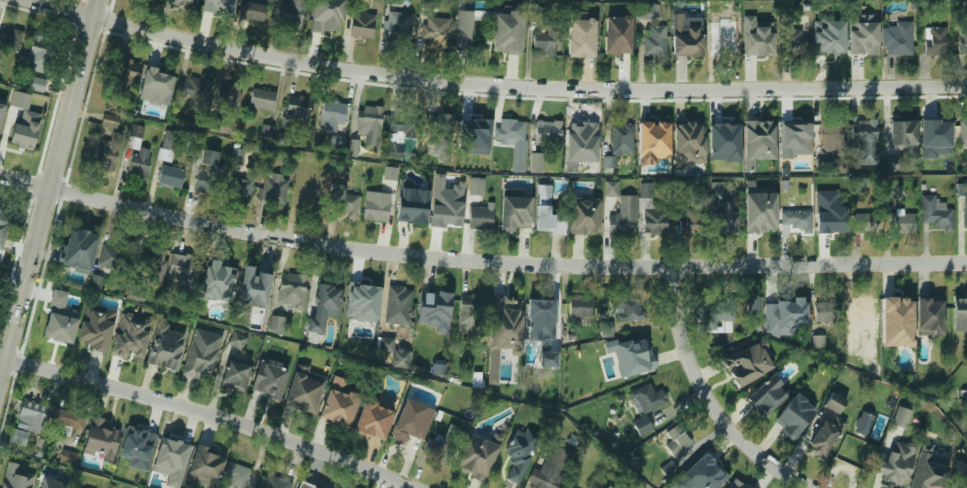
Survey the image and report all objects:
building: (186, 3)
building: (217, 6)
building: (252, 11)
building: (649, 11)
building: (292, 13)
building: (589, 13)
building: (329, 19)
building: (361, 25)
building: (398, 28)
building: (435, 30)
building: (464, 30)
building: (617, 35)
building: (722, 39)
building: (864, 39)
building: (899, 39)
building: (9, 40)
building: (544, 40)
building: (829, 41)
building: (934, 41)
building: (961, 41)
building: (470, 42)
building: (654, 42)
building: (792, 42)
building: (508, 43)
building: (579, 43)
building: (756, 43)
building: (686, 44)
building: (37, 51)
building: (123, 74)
building: (158, 82)
building: (36, 84)
road: (498, 85)
building: (191, 90)
building: (227, 94)
building: (261, 99)
building: (33, 102)
building: (1, 110)
building: (295, 113)
building: (369, 116)
building: (331, 117)
building: (108, 120)
building: (439, 124)
building: (399, 125)
building: (474, 125)
building: (17, 128)
building: (796, 129)
building: (511, 130)
building: (901, 130)
building: (267, 131)
building: (547, 131)
building: (935, 131)
building: (863, 132)
building: (724, 133)
building: (963, 133)
building: (582, 134)
building: (651, 134)
building: (830, 134)
building: (688, 135)
building: (758, 135)
building: (621, 140)
building: (338, 142)
building: (355, 142)
building: (167, 145)
building: (104, 154)
building: (237, 154)
building: (609, 162)
building: (893, 162)
building: (138, 163)
building: (535, 163)
building: (390, 173)
building: (170, 176)
building: (206, 178)
building: (477, 186)
building: (239, 188)
building: (717, 188)
building: (822, 188)
building: (272, 189)
building: (610, 189)
building: (961, 190)
building: (645, 191)
road: (51, 192)
building: (895, 192)
building: (308, 195)
building: (341, 201)
building: (375, 206)
building: (410, 210)
building: (964, 211)
building: (447, 213)
building: (546, 213)
building: (935, 213)
building: (1, 215)
building: (726, 217)
building: (480, 218)
building: (515, 218)
building: (622, 218)
building: (654, 220)
building: (833, 220)
building: (759, 221)
building: (794, 221)
building: (689, 222)
building: (867, 222)
building: (583, 223)
building: (901, 223)
building: (78, 249)
building: (112, 258)
road: (479, 261)
building: (152, 265)
building: (183, 267)
building: (221, 272)
building: (256, 281)
building: (97, 282)
building: (292, 290)
building: (361, 292)
building: (325, 299)
building: (398, 306)
building: (580, 308)
building: (627, 308)
building: (754, 308)
building: (931, 308)
building: (961, 309)
building: (435, 311)
building: (469, 311)
building: (508, 311)
building: (779, 311)
building: (59, 312)
building: (826, 313)
building: (717, 314)
building: (543, 315)
building: (862, 315)
building: (897, 322)
building: (277, 325)
building: (95, 327)
building: (130, 337)
building: (818, 341)
building: (236, 342)
building: (852, 343)
building: (385, 345)
building: (163, 347)
building: (201, 354)
building: (401, 358)
building: (548, 359)
building: (637, 359)
building: (745, 363)
building: (438, 368)
building: (233, 372)
building: (268, 381)
building: (767, 395)
building: (300, 396)
building: (648, 398)
road: (712, 398)
building: (336, 407)
road: (210, 414)
building: (788, 416)
building: (901, 417)
building: (373, 420)
building: (411, 421)
building: (67, 422)
building: (28, 423)
building: (641, 426)
building: (828, 426)
building: (99, 439)
building: (133, 439)
building: (679, 443)
building: (441, 447)
building: (169, 452)
building: (520, 453)
building: (853, 454)
building: (68, 457)
building: (476, 457)
building: (138, 463)
building: (205, 463)
building: (890, 464)
building: (15, 469)
building: (508, 469)
building: (552, 469)
building: (704, 469)
building: (927, 474)
building: (236, 476)
building: (962, 481)
building: (271, 482)
building: (52, 483)
building: (730, 484)
building: (304, 485)
building: (2, 487)
building: (607, 487)

